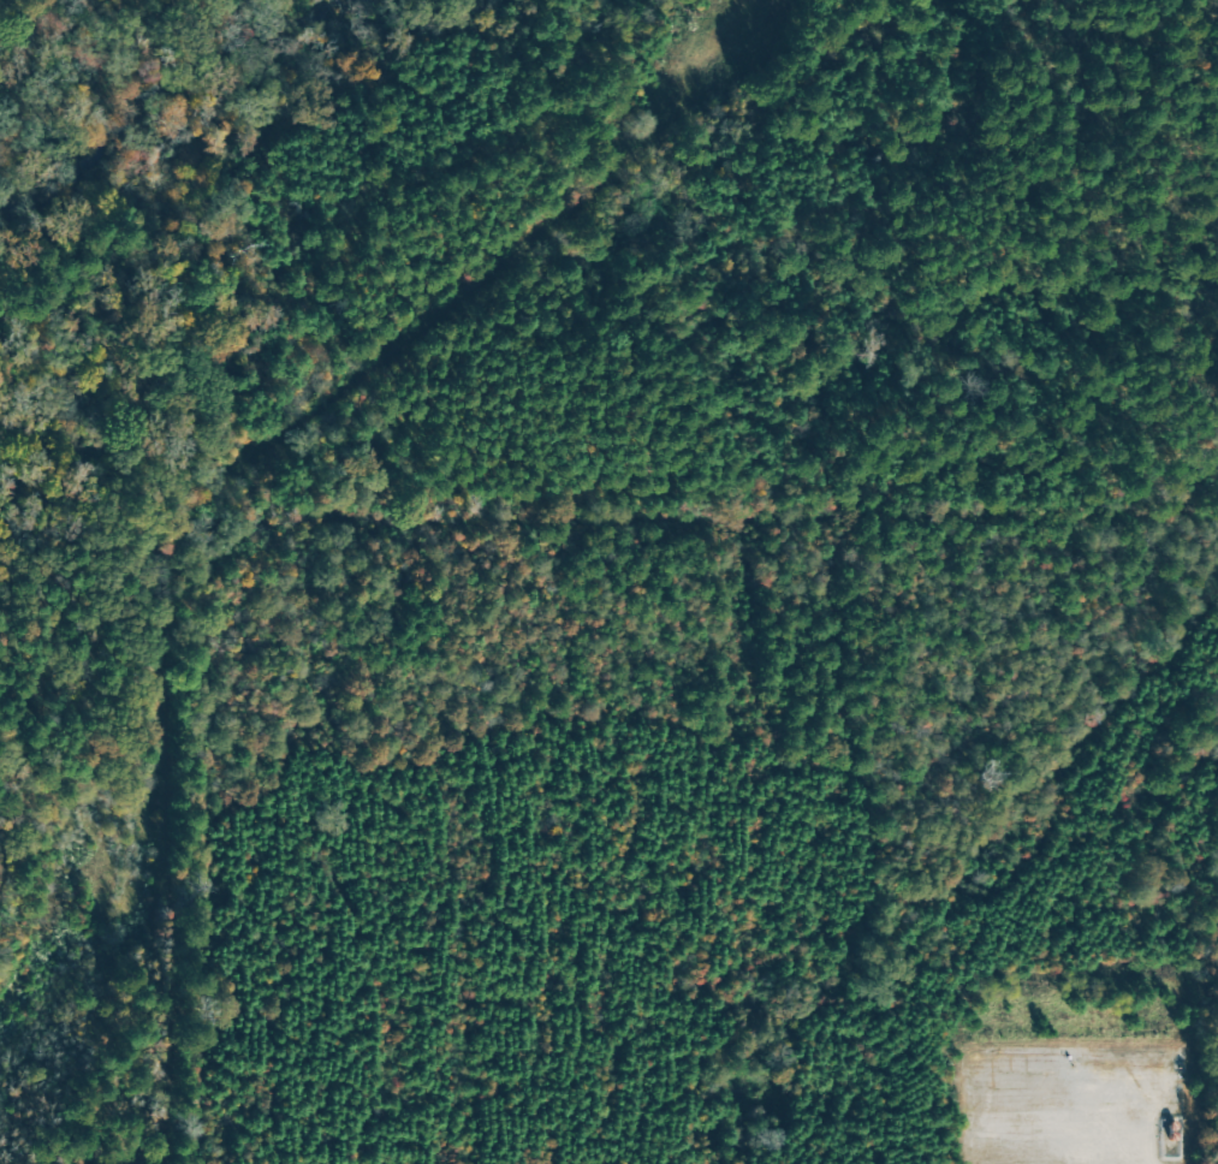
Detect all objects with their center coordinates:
road: (61, 1127)

